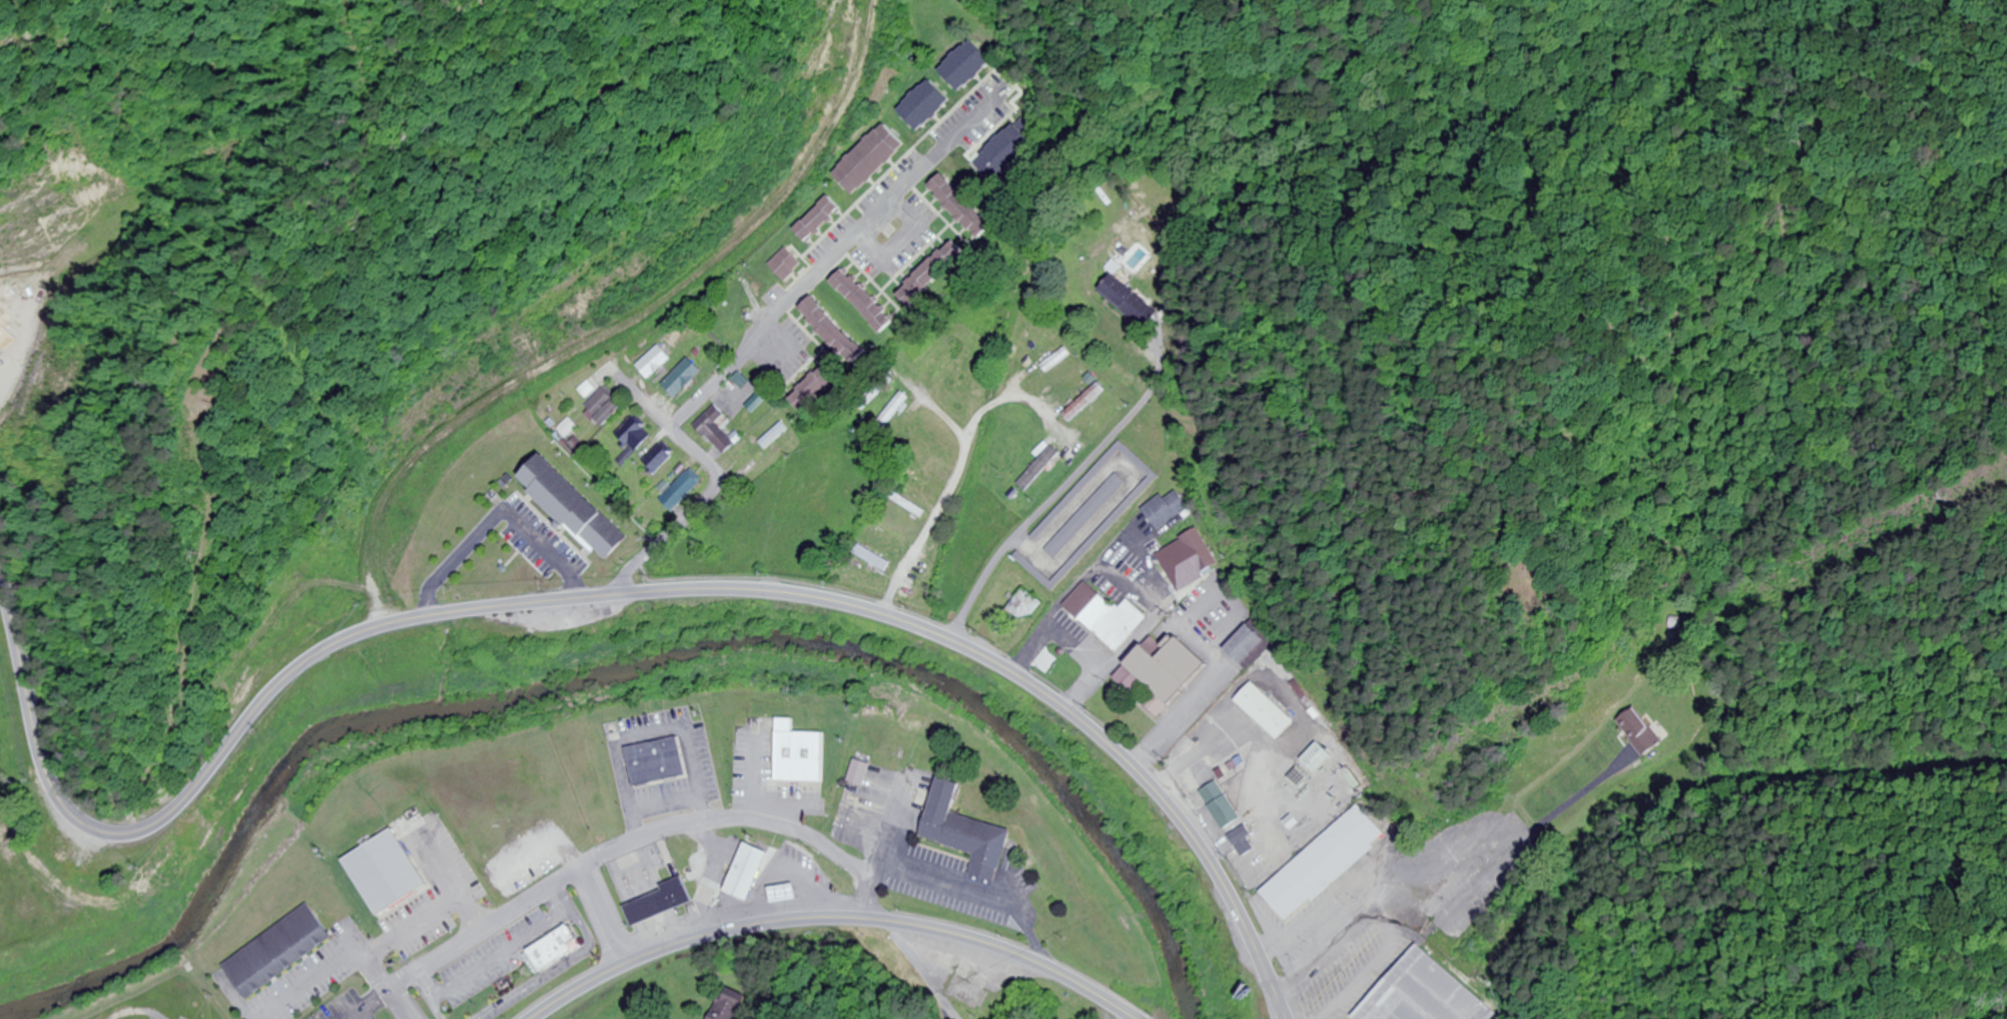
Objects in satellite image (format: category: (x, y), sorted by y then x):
building: (970, 67)
building: (925, 103)
building: (1007, 148)
building: (871, 156)
building: (961, 204)
building: (818, 216)
road: (907, 237)
building: (786, 262)
building: (932, 271)
building: (863, 298)
building: (1129, 298)
building: (834, 328)
road: (760, 334)
building: (1037, 348)
building: (948, 362)
building: (1050, 362)
building: (655, 363)
building: (969, 373)
building: (682, 376)
building: (743, 382)
building: (1073, 382)
building: (815, 387)
building: (876, 393)
road: (642, 399)
building: (1085, 400)
building: (606, 407)
building: (893, 411)
building: (1105, 421)
building: (716, 427)
building: (635, 440)
building: (933, 441)
building: (1020, 452)
building: (661, 459)
building: (1037, 473)
building: (683, 491)
road: (948, 495)
building: (573, 505)
building: (1127, 505)
building: (1166, 509)
building: (1087, 514)
building: (894, 532)
building: (1200, 551)
building: (876, 559)
road: (608, 595)
building: (1106, 614)
building: (1247, 644)
river: (623, 661)
building: (1165, 672)
building: (1267, 711)
building: (1640, 731)
building: (800, 752)
building: (1318, 758)
building: (661, 765)
building: (860, 773)
building: (1223, 805)
building: (967, 832)
building: (1356, 834)
building: (1246, 842)
road: (616, 851)
building: (747, 870)
gas station: (747, 870)
building: (391, 880)
building: (1294, 891)
building: (783, 893)
gas station: (785, 900)
building: (660, 902)
road: (836, 920)
building: (276, 947)
building: (558, 949)
road: (918, 971)
parking lot: (314, 983)
building: (971, 993)
building: (1423, 994)
building: (730, 1004)
road: (137, 1011)
road: (1129, 1016)

